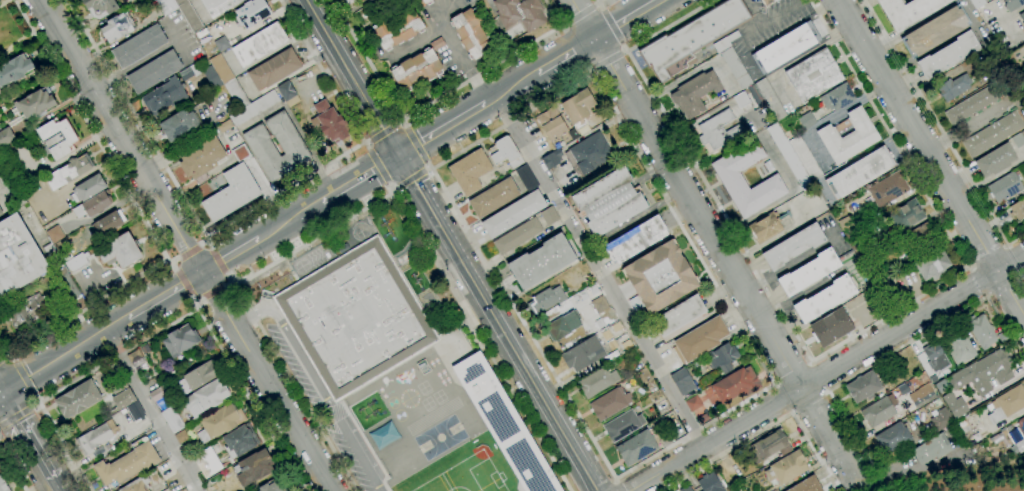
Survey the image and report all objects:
road: (600, 0)
building: (426, 1)
road: (3, 2)
building: (349, 2)
building: (767, 2)
road: (596, 3)
building: (977, 3)
building: (1013, 4)
building: (101, 6)
building: (166, 6)
building: (218, 6)
road: (439, 11)
building: (908, 11)
building: (251, 13)
building: (519, 13)
road: (579, 13)
road: (1012, 14)
building: (189, 15)
building: (1022, 17)
road: (626, 19)
road: (975, 21)
road: (767, 22)
road: (563, 24)
building: (116, 28)
park: (16, 29)
building: (398, 29)
building: (935, 31)
building: (472, 33)
road: (449, 38)
building: (692, 38)
building: (221, 44)
building: (259, 44)
building: (139, 46)
building: (785, 47)
road: (624, 53)
building: (948, 55)
road: (565, 56)
building: (732, 60)
road: (608, 63)
building: (418, 67)
building: (274, 69)
building: (15, 70)
building: (154, 72)
building: (189, 72)
road: (592, 72)
building: (813, 75)
building: (212, 78)
building: (228, 82)
building: (954, 87)
road: (510, 88)
building: (694, 93)
building: (288, 94)
building: (165, 95)
building: (837, 97)
building: (766, 98)
building: (741, 99)
road: (434, 101)
building: (36, 103)
building: (971, 105)
building: (254, 108)
building: (578, 108)
road: (403, 120)
building: (805, 120)
building: (328, 122)
road: (934, 122)
building: (551, 123)
building: (179, 125)
building: (225, 126)
road: (441, 129)
building: (717, 130)
road: (384, 132)
building: (1023, 133)
building: (992, 134)
building: (848, 136)
building: (6, 137)
building: (56, 139)
building: (1017, 140)
road: (364, 144)
road: (415, 145)
building: (292, 146)
road: (635, 150)
road: (310, 152)
building: (505, 152)
building: (240, 153)
building: (589, 154)
road: (930, 155)
traffic signals: (398, 156)
building: (788, 157)
building: (552, 159)
building: (805, 159)
building: (202, 160)
building: (995, 160)
road: (429, 165)
road: (378, 166)
building: (768, 166)
road: (428, 169)
building: (69, 171)
building: (470, 171)
building: (859, 173)
road: (412, 178)
building: (527, 178)
road: (359, 179)
building: (732, 181)
building: (9, 184)
road: (390, 187)
building: (1004, 187)
road: (396, 188)
building: (88, 189)
building: (887, 189)
building: (231, 193)
building: (493, 198)
building: (608, 202)
building: (93, 205)
building: (1017, 209)
building: (1, 213)
building: (513, 214)
building: (549, 216)
building: (905, 216)
road: (142, 217)
road: (238, 219)
road: (290, 221)
building: (108, 223)
building: (846, 224)
building: (765, 227)
building: (55, 234)
building: (517, 236)
road: (207, 238)
building: (917, 238)
building: (636, 240)
road: (1016, 240)
road: (716, 241)
building: (856, 244)
road: (185, 245)
road: (451, 245)
building: (793, 246)
building: (120, 252)
road: (190, 252)
building: (50, 253)
building: (18, 256)
road: (230, 256)
road: (987, 256)
road: (1016, 258)
road: (167, 260)
road: (217, 261)
building: (541, 261)
building: (75, 262)
road: (792, 263)
building: (932, 264)
road: (598, 272)
building: (809, 273)
building: (659, 277)
building: (825, 280)
road: (976, 282)
building: (61, 283)
road: (184, 283)
road: (236, 283)
road: (1005, 286)
building: (591, 288)
road: (212, 292)
road: (164, 294)
track: (428, 297)
building: (824, 299)
building: (546, 300)
road: (196, 304)
building: (599, 304)
road: (249, 309)
building: (25, 310)
building: (877, 310)
building: (679, 315)
building: (355, 318)
building: (563, 325)
building: (616, 327)
building: (831, 327)
road: (164, 329)
building: (981, 332)
building: (606, 335)
building: (701, 339)
building: (180, 341)
road: (483, 341)
building: (626, 344)
building: (612, 345)
building: (958, 346)
building: (145, 348)
flagpole: (457, 350)
road: (825, 352)
road: (894, 352)
building: (583, 354)
road: (63, 355)
road: (5, 356)
building: (935, 357)
road: (13, 358)
building: (721, 358)
road: (0, 359)
building: (135, 359)
road: (792, 373)
road: (827, 373)
building: (983, 373)
road: (820, 376)
building: (197, 377)
road: (25, 379)
road: (315, 381)
building: (597, 382)
building: (682, 382)
building: (117, 385)
building: (735, 385)
building: (863, 386)
building: (941, 387)
building: (167, 388)
traffic signals: (0, 394)
building: (156, 394)
building: (921, 396)
building: (207, 397)
road: (34, 399)
building: (123, 399)
building: (77, 400)
road: (781, 400)
road: (570, 401)
building: (609, 403)
road: (811, 403)
road: (33, 404)
building: (693, 404)
building: (1006, 404)
building: (955, 405)
parking lot: (318, 406)
road: (151, 411)
building: (134, 412)
building: (877, 412)
road: (16, 415)
track: (433, 416)
building: (703, 417)
building: (941, 419)
building: (172, 420)
building: (219, 422)
building: (504, 425)
building: (623, 426)
building: (1020, 426)
road: (766, 430)
building: (383, 436)
road: (24, 437)
building: (96, 437)
building: (181, 437)
park: (440, 437)
building: (1000, 437)
building: (893, 438)
building: (667, 439)
building: (240, 441)
building: (1019, 445)
building: (770, 446)
building: (636, 448)
building: (931, 449)
building: (98, 452)
building: (207, 462)
building: (127, 465)
road: (12, 468)
building: (254, 468)
building: (785, 468)
park: (473, 476)
building: (709, 483)
road: (883, 483)
building: (3, 485)
road: (53, 485)
building: (138, 485)
road: (619, 485)
building: (807, 485)
building: (274, 486)
park: (433, 487)
road: (852, 488)
building: (686, 489)

